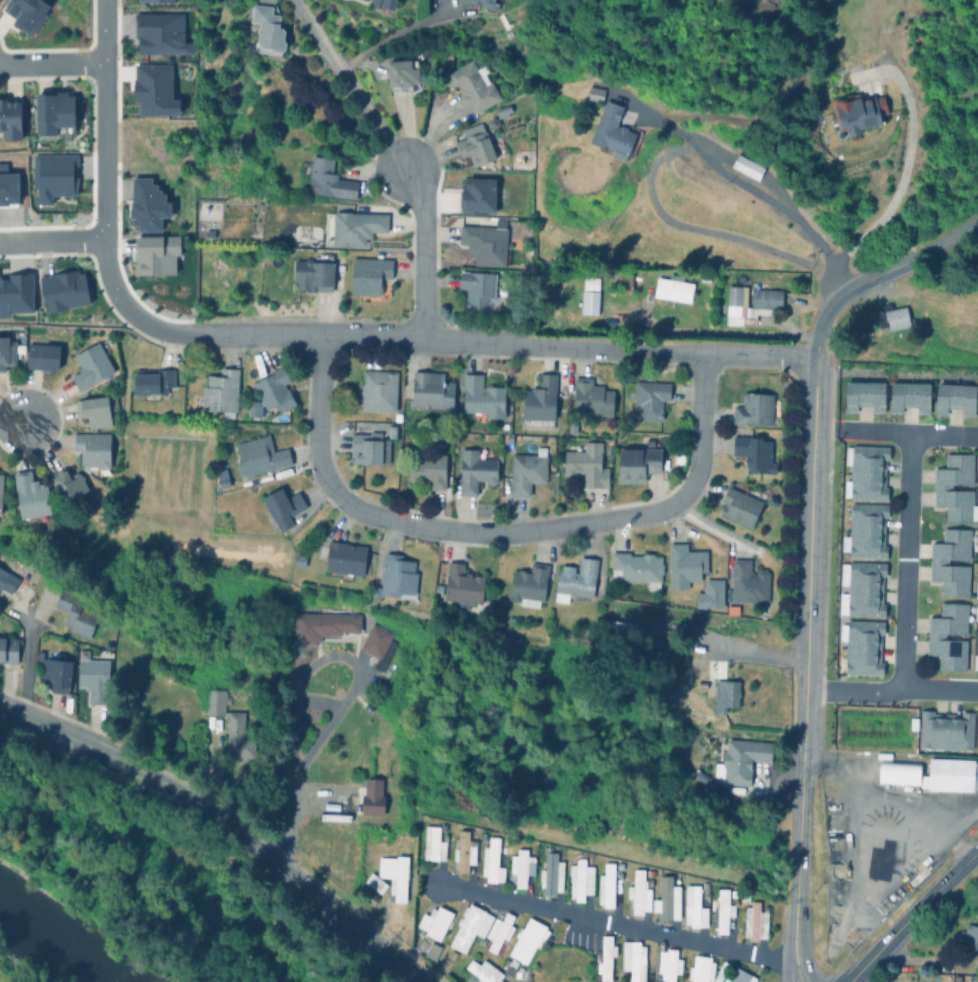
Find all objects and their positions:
building: (153, 0)
building: (486, 2)
building: (382, 3)
building: (25, 13)
building: (267, 28)
building: (160, 33)
road: (393, 35)
road: (51, 59)
building: (401, 73)
building: (526, 75)
road: (351, 82)
building: (471, 83)
building: (153, 89)
building: (594, 92)
building: (856, 110)
building: (53, 112)
building: (8, 116)
building: (492, 120)
building: (612, 131)
building: (473, 144)
building: (746, 165)
road: (904, 170)
building: (53, 175)
building: (326, 178)
road: (744, 188)
building: (476, 195)
road: (103, 197)
building: (146, 204)
building: (351, 225)
road: (52, 239)
building: (483, 242)
road: (424, 251)
building: (155, 253)
building: (312, 271)
building: (368, 273)
road: (878, 273)
building: (680, 287)
building: (476, 288)
building: (63, 289)
building: (16, 293)
building: (588, 295)
building: (750, 303)
building: (890, 316)
road: (309, 335)
building: (10, 345)
road: (616, 350)
building: (41, 355)
building: (89, 363)
building: (150, 381)
building: (219, 389)
building: (273, 389)
building: (375, 389)
building: (429, 389)
building: (863, 395)
building: (480, 396)
building: (908, 396)
building: (590, 397)
building: (954, 397)
building: (648, 398)
building: (538, 401)
building: (251, 407)
building: (94, 408)
building: (754, 408)
road: (319, 415)
road: (11, 420)
road: (701, 426)
building: (391, 430)
road: (909, 431)
building: (364, 446)
building: (92, 449)
building: (753, 452)
building: (256, 455)
building: (636, 462)
building: (585, 463)
building: (426, 466)
building: (473, 470)
building: (525, 470)
building: (865, 472)
building: (221, 476)
building: (65, 480)
building: (941, 486)
building: (0, 488)
building: (28, 493)
road: (810, 494)
building: (281, 502)
building: (738, 506)
building: (977, 516)
building: (865, 530)
road: (510, 532)
building: (297, 556)
building: (344, 557)
road: (906, 559)
building: (937, 562)
building: (684, 564)
building: (635, 567)
building: (396, 573)
building: (574, 577)
building: (7, 578)
building: (528, 582)
building: (461, 583)
building: (746, 583)
building: (436, 587)
building: (374, 588)
building: (861, 588)
building: (976, 589)
building: (709, 593)
building: (731, 608)
building: (74, 611)
building: (976, 611)
building: (322, 622)
building: (620, 624)
building: (935, 636)
building: (376, 642)
building: (861, 645)
building: (8, 646)
road: (737, 647)
road: (27, 657)
building: (975, 661)
building: (700, 665)
building: (56, 671)
building: (93, 676)
road: (891, 688)
road: (803, 691)
building: (724, 692)
building: (366, 704)
building: (229, 722)
building: (912, 722)
building: (945, 728)
road: (45, 729)
building: (977, 733)
building: (739, 757)
road: (301, 763)
building: (897, 770)
building: (698, 773)
building: (950, 773)
building: (370, 794)
building: (346, 830)
building: (432, 842)
building: (462, 849)
road: (262, 853)
building: (492, 859)
building: (521, 865)
road: (798, 867)
building: (550, 870)
building: (393, 873)
building: (579, 877)
building: (605, 883)
building: (373, 885)
building: (635, 888)
building: (664, 895)
building: (693, 905)
building: (721, 909)
road: (911, 915)
building: (755, 918)
building: (433, 920)
building: (468, 924)
road: (618, 926)
building: (498, 929)
building: (968, 935)
building: (526, 937)
river: (51, 943)
building: (430, 948)
building: (604, 955)
building: (633, 958)
building: (967, 962)
building: (670, 964)
building: (507, 965)
building: (699, 968)
building: (482, 971)
building: (716, 976)
building: (737, 976)

